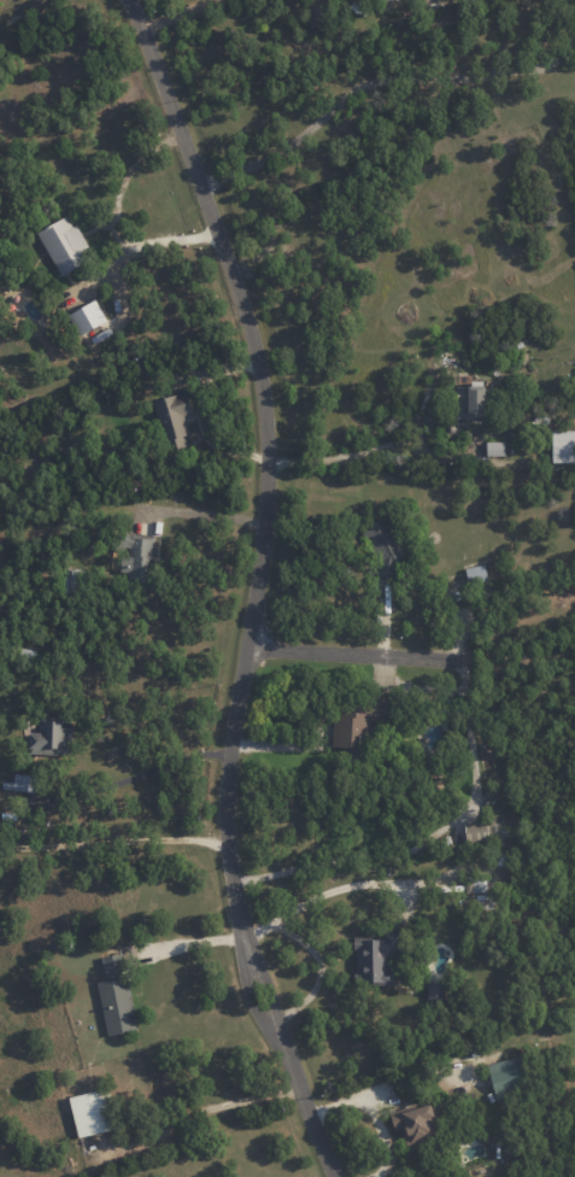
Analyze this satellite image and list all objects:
building: (388, 0)
road: (172, 12)
building: (318, 21)
road: (379, 80)
building: (64, 245)
building: (86, 317)
building: (469, 400)
building: (172, 416)
building: (562, 446)
road: (371, 449)
building: (494, 449)
road: (204, 515)
building: (382, 545)
building: (135, 557)
building: (475, 574)
road: (258, 586)
road: (354, 650)
building: (354, 725)
building: (49, 738)
road: (139, 774)
building: (475, 831)
road: (427, 836)
road: (115, 841)
building: (474, 882)
road: (333, 890)
road: (192, 947)
building: (374, 960)
road: (319, 967)
building: (434, 991)
building: (115, 996)
building: (507, 1076)
building: (90, 1113)
building: (415, 1125)

